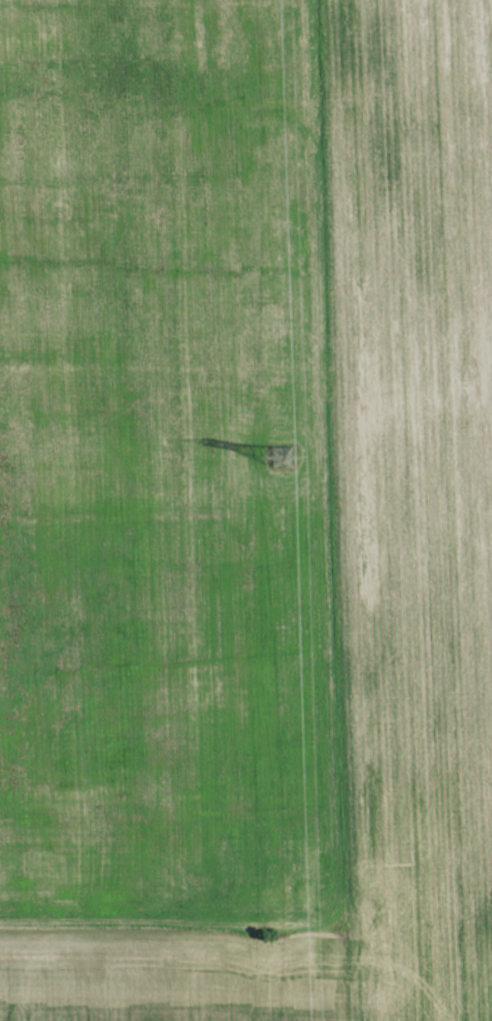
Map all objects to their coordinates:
power tower: (282, 459)
crop: (413, 498)
crop: (167, 516)

